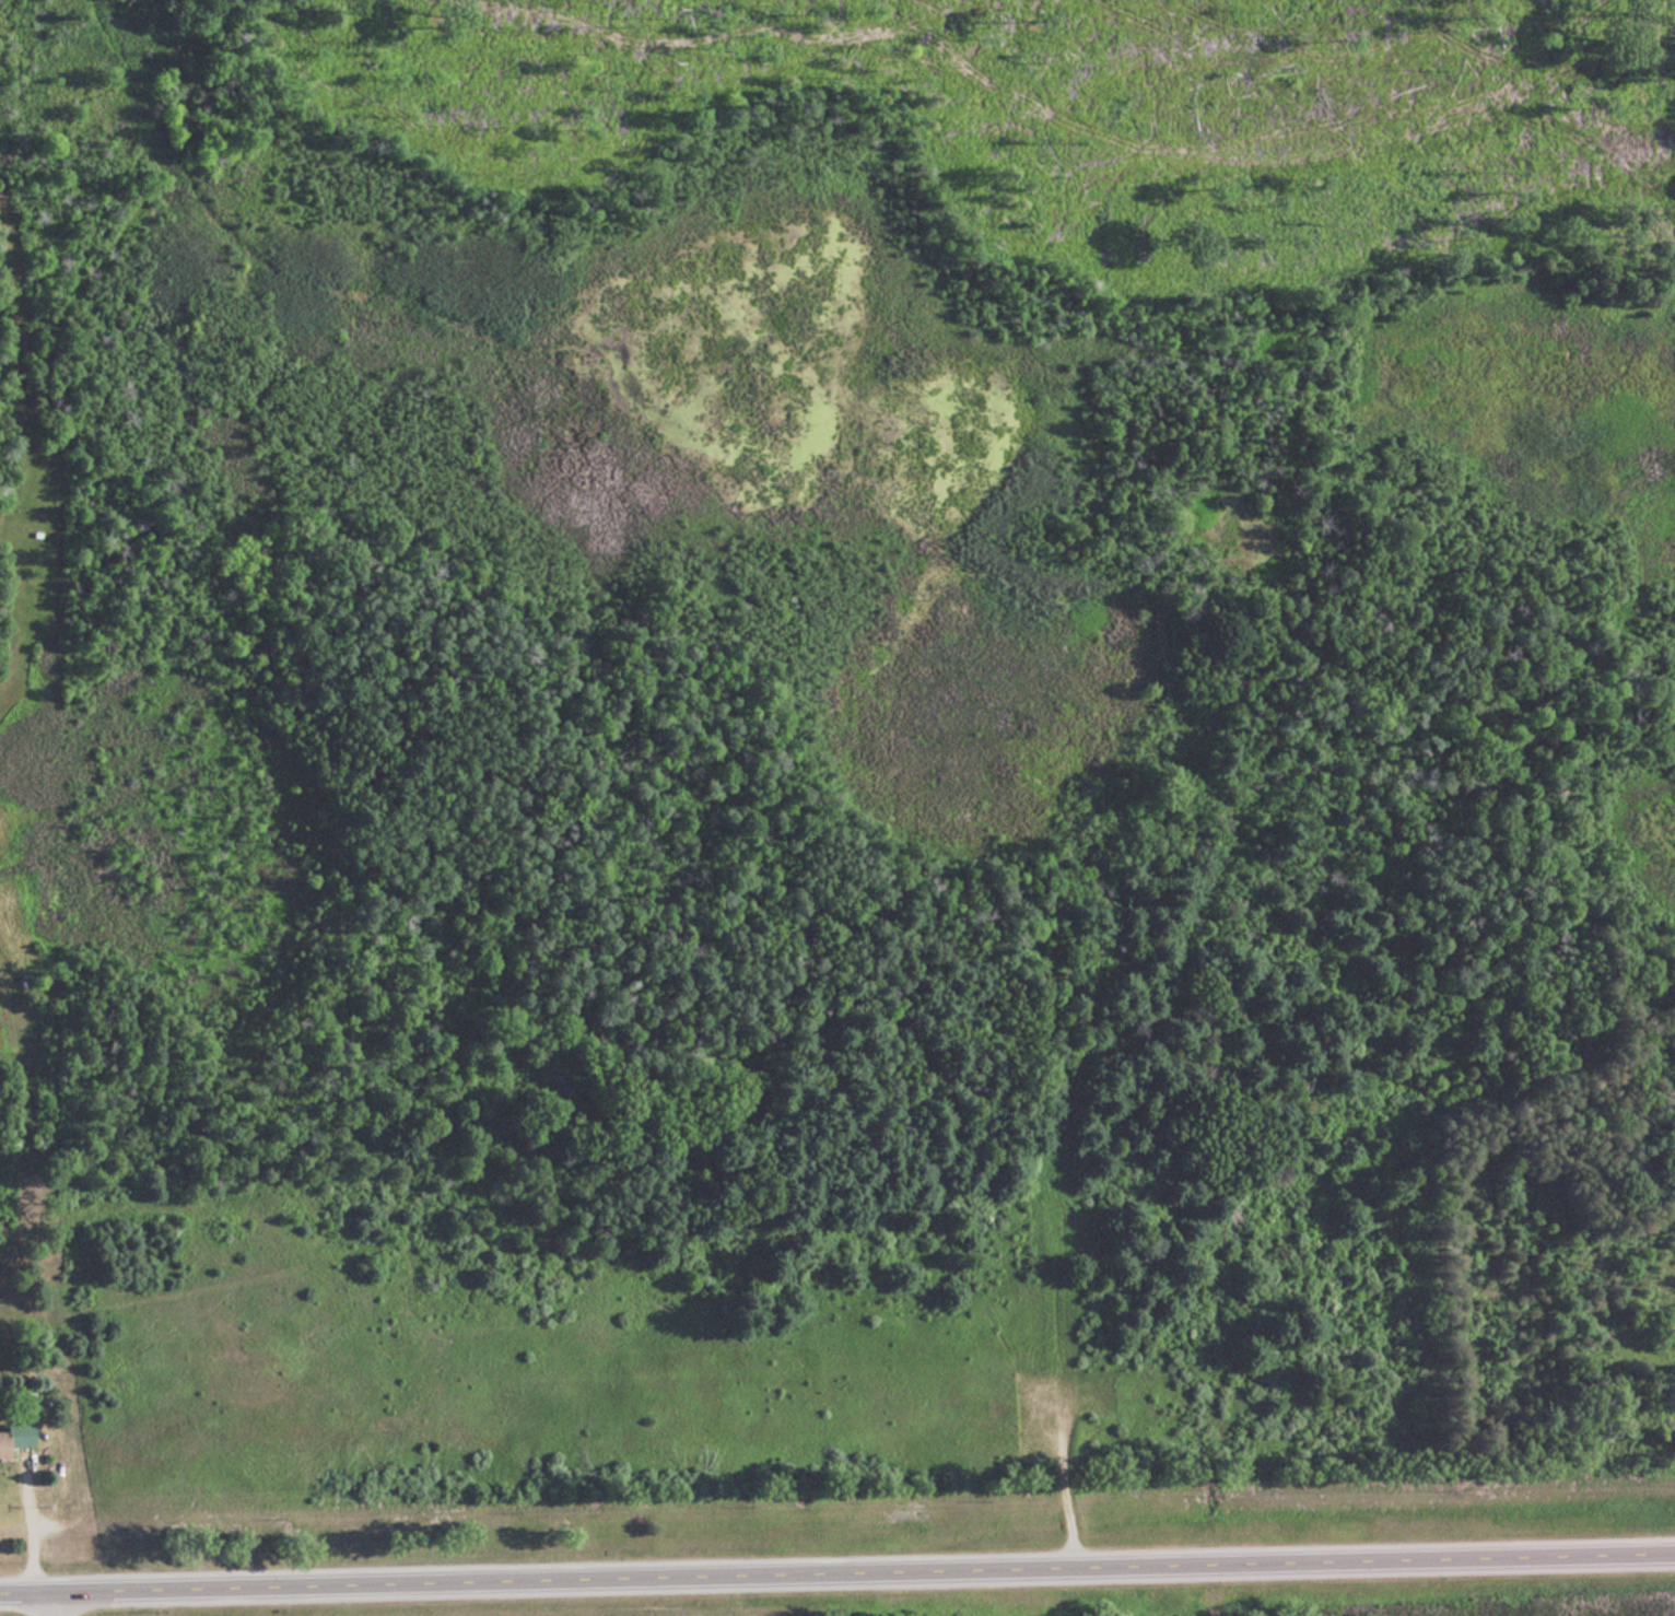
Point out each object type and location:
park: (853, 780)
building: (13, 1436)
road: (24, 1522)
road: (838, 1576)
road: (52, 1602)

